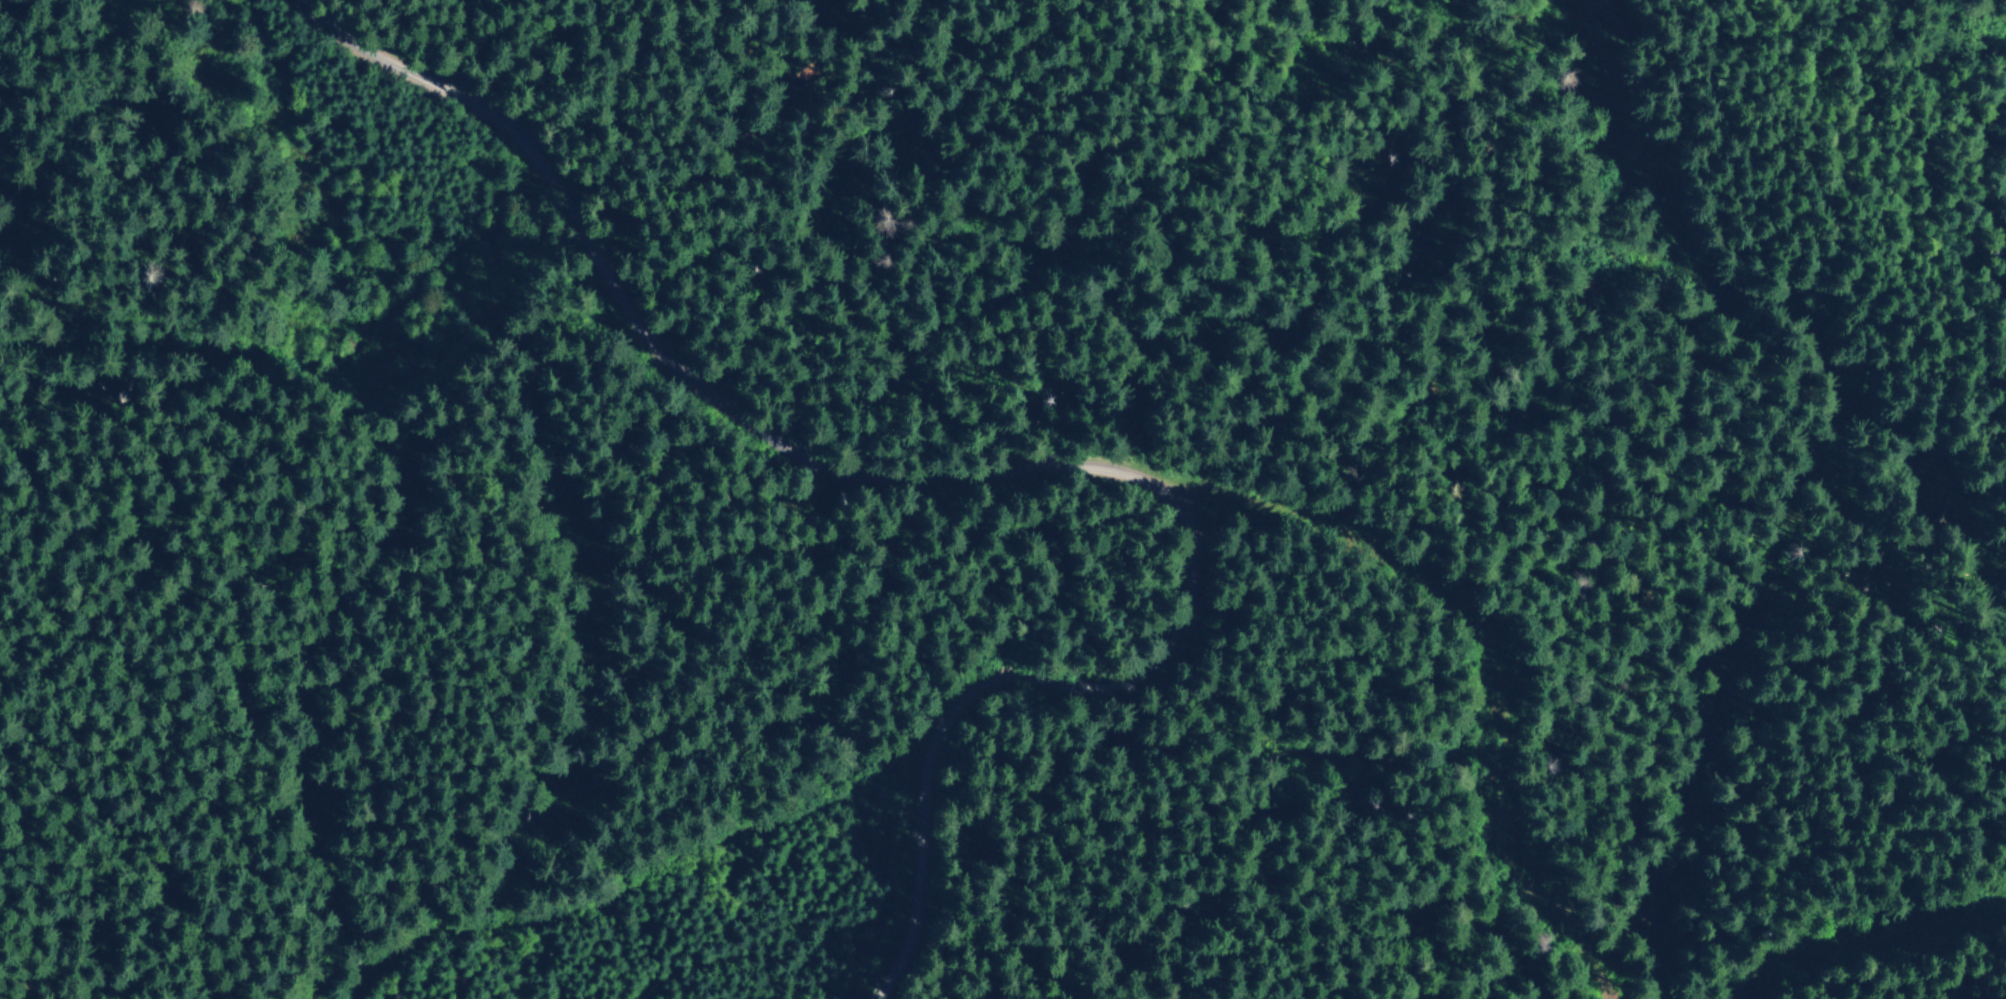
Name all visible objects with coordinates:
road: (323, 340)
road: (699, 365)
road: (520, 613)
road: (1482, 669)
road: (969, 694)
road: (641, 892)
road: (1892, 927)
road: (114, 990)

